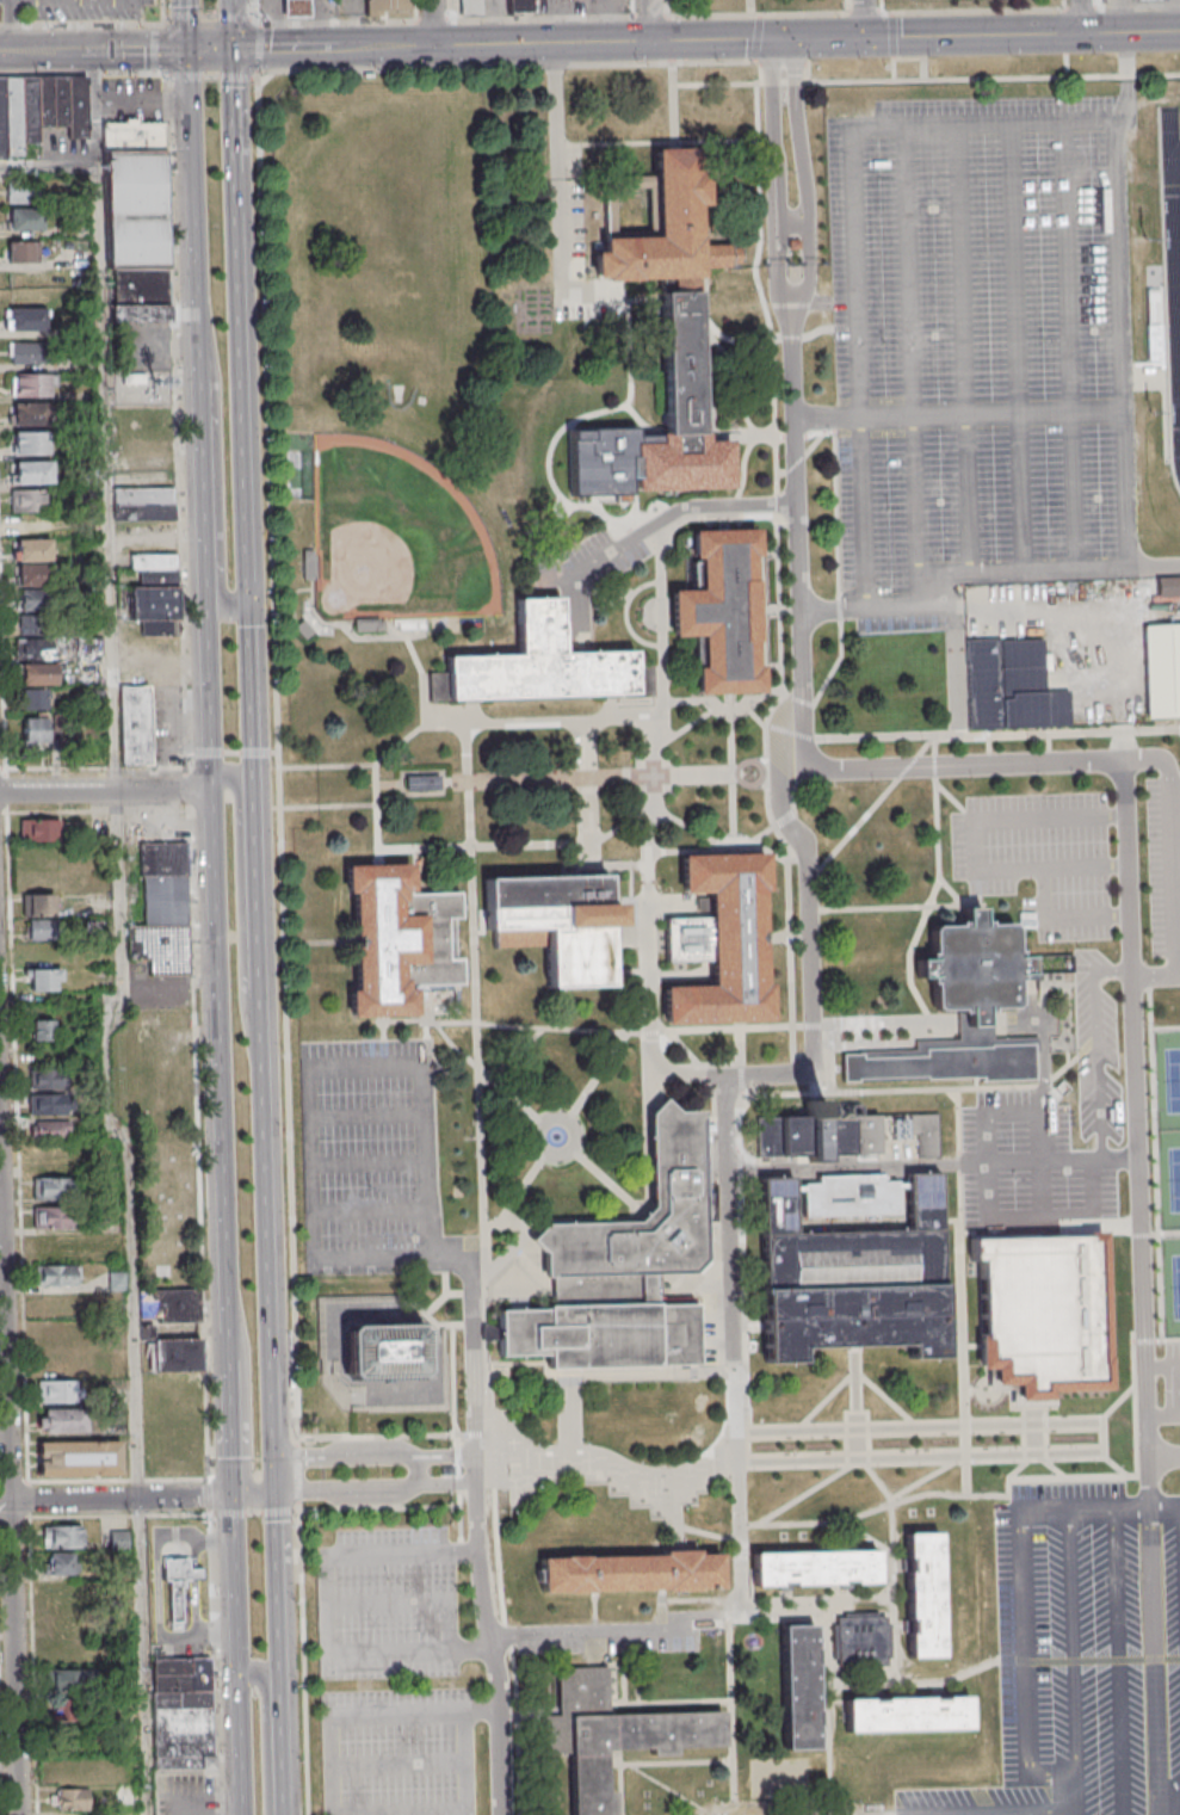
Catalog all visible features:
road: (61, 0)
building: (1149, 0)
road: (1062, 4)
park: (927, 5)
building: (387, 6)
building: (467, 6)
parking lot: (493, 6)
building: (519, 6)
parking lot: (580, 6)
road: (879, 6)
road: (162, 7)
building: (299, 7)
parking lot: (76, 8)
road: (211, 13)
road: (184, 14)
road: (255, 14)
road: (716, 14)
road: (233, 16)
road: (1081, 16)
road: (235, 17)
road: (865, 18)
road: (649, 20)
road: (193, 23)
road: (433, 23)
road: (85, 24)
road: (16, 25)
road: (1104, 31)
road: (891, 35)
road: (976, 35)
road: (756, 37)
traffic signals: (866, 37)
traffic signals: (767, 38)
road: (234, 39)
road: (660, 39)
traffic signals: (793, 39)
road: (314, 47)
road: (157, 48)
traffic signals: (194, 48)
road: (214, 48)
road: (264, 48)
traffic signals: (234, 49)
road: (135, 50)
road: (37, 51)
road: (908, 56)
road: (654, 63)
road: (1064, 64)
road: (1128, 64)
road: (407, 68)
road: (85, 74)
road: (187, 74)
road: (211, 75)
road: (237, 78)
road: (925, 79)
parking lot: (136, 99)
building: (62, 104)
road: (672, 106)
building: (29, 110)
building: (12, 116)
building: (2, 121)
building: (132, 136)
road: (656, 141)
road: (853, 144)
road: (50, 166)
road: (773, 181)
road: (804, 181)
building: (21, 191)
road: (560, 196)
building: (135, 209)
road: (200, 212)
building: (23, 217)
building: (663, 229)
parking lot: (576, 241)
building: (21, 251)
track: (1173, 265)
building: (136, 285)
road: (623, 298)
road: (1164, 301)
building: (137, 313)
building: (26, 319)
road: (777, 337)
road: (242, 338)
road: (1068, 346)
road: (1015, 347)
road: (962, 350)
building: (29, 352)
parking lot: (983, 354)
building: (680, 360)
road: (629, 363)
road: (910, 365)
road: (1147, 381)
building: (31, 383)
road: (735, 396)
road: (991, 412)
building: (31, 413)
road: (828, 419)
road: (175, 422)
road: (767, 434)
building: (31, 443)
road: (799, 457)
road: (548, 468)
building: (32, 470)
road: (1126, 484)
road: (208, 489)
building: (143, 495)
building: (26, 499)
road: (863, 511)
building: (143, 512)
road: (680, 520)
building: (31, 525)
road: (649, 529)
park: (395, 535)
building: (33, 549)
road: (777, 551)
building: (153, 561)
building: (309, 563)
road: (1155, 566)
building: (36, 574)
building: (157, 578)
road: (836, 581)
road: (294, 595)
road: (601, 595)
building: (35, 599)
building: (148, 603)
traffic signals: (251, 607)
road: (779, 607)
road: (821, 609)
road: (761, 610)
road: (1100, 610)
building: (722, 611)
road: (624, 613)
building: (35, 623)
building: (370, 624)
building: (159, 628)
road: (384, 635)
building: (33, 648)
building: (91, 649)
building: (539, 666)
road: (953, 669)
building: (37, 673)
building: (1013, 687)
building: (32, 698)
road: (723, 709)
road: (557, 721)
building: (134, 724)
road: (684, 726)
building: (32, 729)
road: (957, 735)
road: (1048, 747)
road: (988, 749)
road: (209, 752)
road: (233, 752)
road: (257, 752)
road: (277, 752)
road: (969, 765)
road: (92, 766)
road: (325, 766)
road: (729, 770)
road: (765, 772)
road: (773, 772)
road: (736, 773)
road: (1175, 774)
road: (587, 777)
building: (420, 782)
road: (400, 783)
road: (389, 784)
road: (186, 790)
road: (109, 791)
road: (583, 795)
road: (953, 801)
road: (327, 805)
road: (93, 810)
road: (781, 819)
road: (937, 823)
road: (685, 826)
building: (39, 829)
road: (512, 845)
road: (971, 845)
building: (162, 858)
parking lot: (1042, 859)
road: (607, 864)
road: (640, 864)
road: (413, 865)
road: (817, 868)
road: (809, 870)
parking lot: (1164, 878)
road: (629, 884)
road: (1174, 885)
road: (976, 888)
building: (163, 900)
road: (643, 900)
road: (897, 907)
road: (245, 912)
building: (39, 915)
road: (1062, 915)
building: (557, 925)
road: (124, 933)
road: (777, 936)
building: (396, 942)
road: (317, 943)
building: (727, 944)
building: (159, 947)
road: (910, 949)
road: (659, 975)
building: (42, 979)
road: (1079, 983)
road: (222, 986)
road: (1064, 995)
road: (262, 1002)
building: (963, 1012)
parking lot: (1095, 1026)
building: (42, 1030)
road: (1164, 1030)
road: (643, 1031)
road: (425, 1035)
road: (643, 1042)
road: (1042, 1043)
road: (1096, 1047)
road: (828, 1057)
road: (509, 1060)
road: (1073, 1060)
road: (696, 1063)
road: (310, 1072)
road: (483, 1074)
road: (598, 1075)
building: (47, 1078)
road: (975, 1082)
road: (895, 1089)
road: (739, 1097)
road: (1050, 1097)
building: (47, 1103)
road: (197, 1107)
road: (1136, 1109)
road: (555, 1113)
road: (367, 1116)
building: (48, 1129)
fountain: (557, 1135)
building: (820, 1136)
building: (926, 1136)
parking lot: (372, 1156)
road: (1153, 1159)
road: (1061, 1160)
road: (369, 1161)
road: (1043, 1166)
road: (855, 1167)
road: (481, 1168)
park: (1169, 1174)
road: (606, 1180)
building: (50, 1189)
road: (523, 1190)
road: (18, 1191)
road: (370, 1206)
road: (1092, 1211)
building: (51, 1217)
road: (729, 1217)
road: (951, 1221)
road: (1093, 1222)
road: (1068, 1231)
road: (508, 1251)
road: (741, 1260)
building: (854, 1270)
building: (624, 1271)
building: (56, 1274)
building: (116, 1280)
road: (418, 1284)
road: (962, 1291)
road: (464, 1292)
building: (168, 1304)
building: (1044, 1315)
road: (954, 1320)
road: (462, 1323)
road: (753, 1325)
road: (1155, 1340)
road: (971, 1345)
building: (167, 1352)
building: (384, 1352)
road: (734, 1365)
road: (1163, 1368)
road: (717, 1370)
road: (580, 1372)
road: (854, 1376)
parking lot: (1173, 1383)
road: (452, 1388)
road: (978, 1389)
building: (56, 1390)
road: (248, 1399)
road: (857, 1402)
road: (1163, 1415)
road: (274, 1418)
building: (56, 1420)
road: (570, 1420)
road: (944, 1425)
road: (742, 1426)
road: (1034, 1426)
road: (236, 1434)
road: (387, 1434)
road: (206, 1441)
road: (745, 1445)
road: (1102, 1452)
road: (375, 1455)
road: (1164, 1457)
building: (78, 1458)
traffic signals: (276, 1458)
road: (789, 1459)
road: (1049, 1463)
road: (954, 1464)
road: (1019, 1465)
road: (418, 1469)
road: (296, 1474)
road: (276, 1475)
road: (1135, 1475)
road: (873, 1476)
road: (117, 1478)
road: (13, 1481)
road: (1150, 1481)
road: (376, 1487)
road: (11, 1489)
road: (807, 1492)
traffic signals: (277, 1493)
road: (208, 1496)
traffic signals: (239, 1496)
road: (118, 1498)
road: (1164, 1505)
road: (297, 1506)
road: (1063, 1507)
road: (378, 1510)
road: (253, 1513)
road: (119, 1514)
road: (14, 1515)
road: (822, 1521)
road: (476, 1523)
building: (61, 1536)
road: (865, 1536)
building: (118, 1539)
road: (890, 1548)
road: (465, 1550)
building: (58, 1562)
road: (739, 1564)
building: (815, 1570)
building: (635, 1573)
building: (174, 1584)
road: (161, 1585)
road: (240, 1585)
building: (923, 1597)
road: (699, 1598)
road: (412, 1600)
parking lot: (388, 1605)
road: (327, 1607)
road: (594, 1613)
road: (704, 1622)
road: (592, 1635)
parking lot: (610, 1640)
building: (860, 1642)
road: (1071, 1642)
road: (475, 1644)
road: (282, 1653)
parking lot: (1083, 1654)
road: (1001, 1659)
road: (1120, 1660)
road: (302, 1662)
road: (214, 1665)
traffic signals: (243, 1674)
building: (74, 1680)
building: (801, 1689)
road: (669, 1704)
road: (730, 1704)
road: (828, 1709)
building: (181, 1712)
road: (369, 1715)
building: (908, 1716)
road: (271, 1733)
building: (614, 1735)
building: (68, 1737)
road: (245, 1745)
parking lot: (399, 1752)
road: (467, 1762)
road: (650, 1762)
road: (399, 1765)
road: (0, 1780)
road: (668, 1789)
road: (1169, 1792)
parking lot: (187, 1794)
building: (70, 1799)
road: (399, 1813)
road: (1021, 1814)

